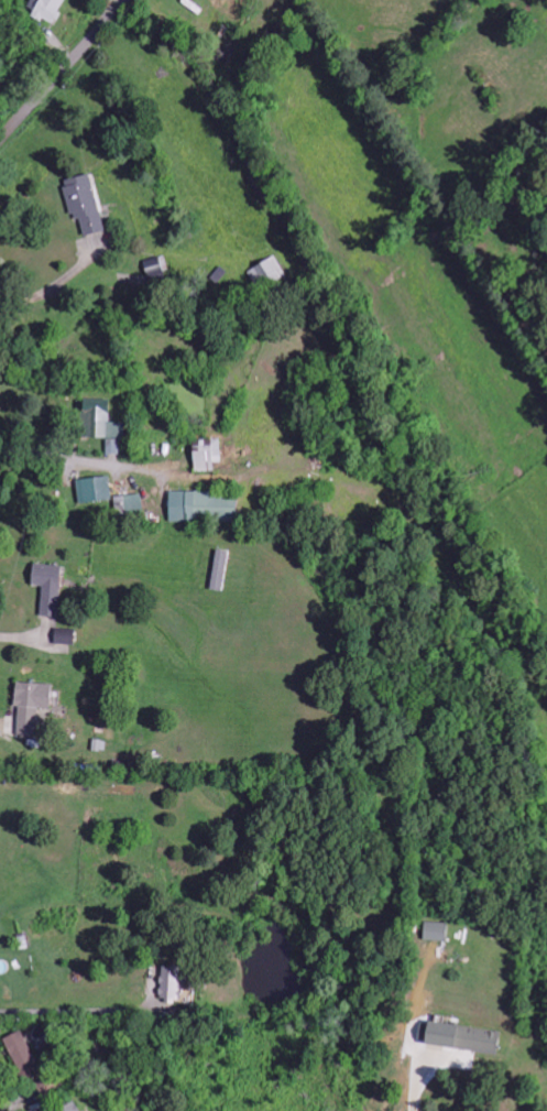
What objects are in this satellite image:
building: (48, 9)
road: (58, 69)
building: (85, 204)
building: (156, 265)
building: (269, 268)
building: (101, 424)
building: (206, 455)
building: (95, 487)
building: (129, 505)
building: (203, 505)
building: (219, 569)
building: (48, 587)
building: (64, 635)
building: (31, 701)
building: (435, 930)
building: (171, 981)
building: (462, 1037)
building: (20, 1050)
building: (69, 1107)

